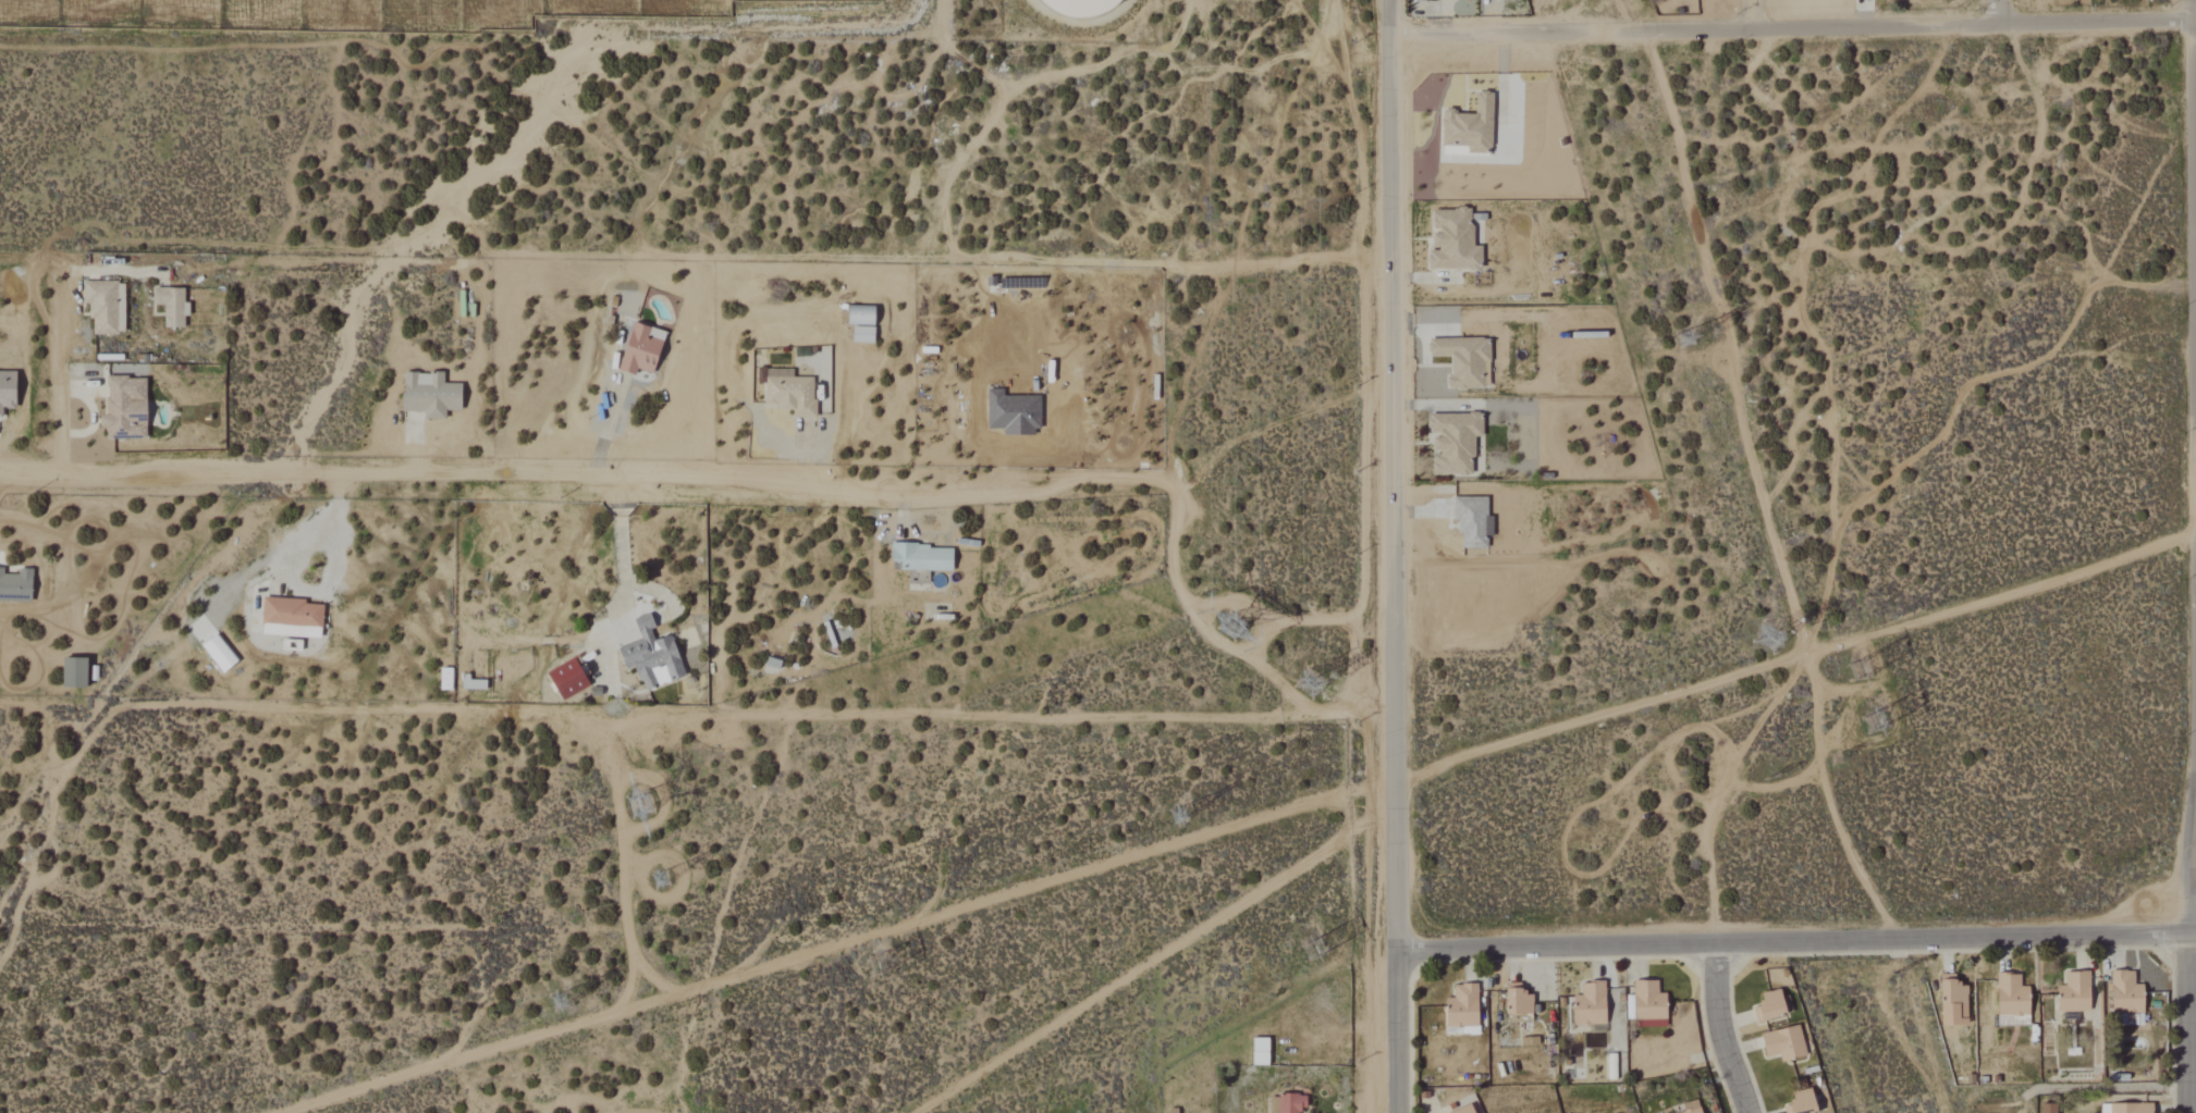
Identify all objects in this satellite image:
building: (1080, 7)
road: (1998, 10)
road: (1767, 16)
road: (1794, 30)
building: (1470, 127)
building: (1451, 240)
road: (28, 255)
road: (724, 256)
building: (105, 306)
building: (170, 306)
power tower: (1716, 331)
building: (862, 334)
power tower: (1693, 341)
building: (641, 349)
road: (57, 360)
building: (1464, 361)
building: (7, 391)
building: (429, 396)
building: (123, 409)
road: (91, 412)
building: (1013, 413)
road: (605, 429)
building: (1453, 442)
road: (661, 478)
road: (622, 546)
road: (1391, 556)
building: (922, 560)
road: (292, 561)
building: (15, 585)
building: (291, 618)
power tower: (1235, 624)
road: (1267, 626)
power tower: (1776, 635)
building: (219, 654)
building: (652, 657)
power tower: (1869, 664)
building: (73, 673)
building: (565, 677)
building: (444, 679)
power tower: (1322, 681)
building: (468, 684)
road: (1309, 707)
power tower: (1887, 717)
power tower: (1833, 756)
power tower: (650, 802)
power tower: (1185, 812)
power tower: (671, 877)
road: (2194, 889)
road: (1793, 944)
power tower: (1317, 959)
power tower: (890, 967)
power tower: (1898, 984)
building: (2074, 992)
building: (2125, 993)
building: (2012, 995)
building: (1953, 1001)
building: (1518, 1004)
building: (1590, 1004)
building: (1648, 1004)
building: (1769, 1005)
road: (1720, 1029)
building: (1783, 1043)
building: (1260, 1051)
building: (1802, 1102)
building: (1285, 1104)
building: (2048, 1108)
building: (2125, 1108)
building: (1463, 1110)
building: (1692, 1111)

